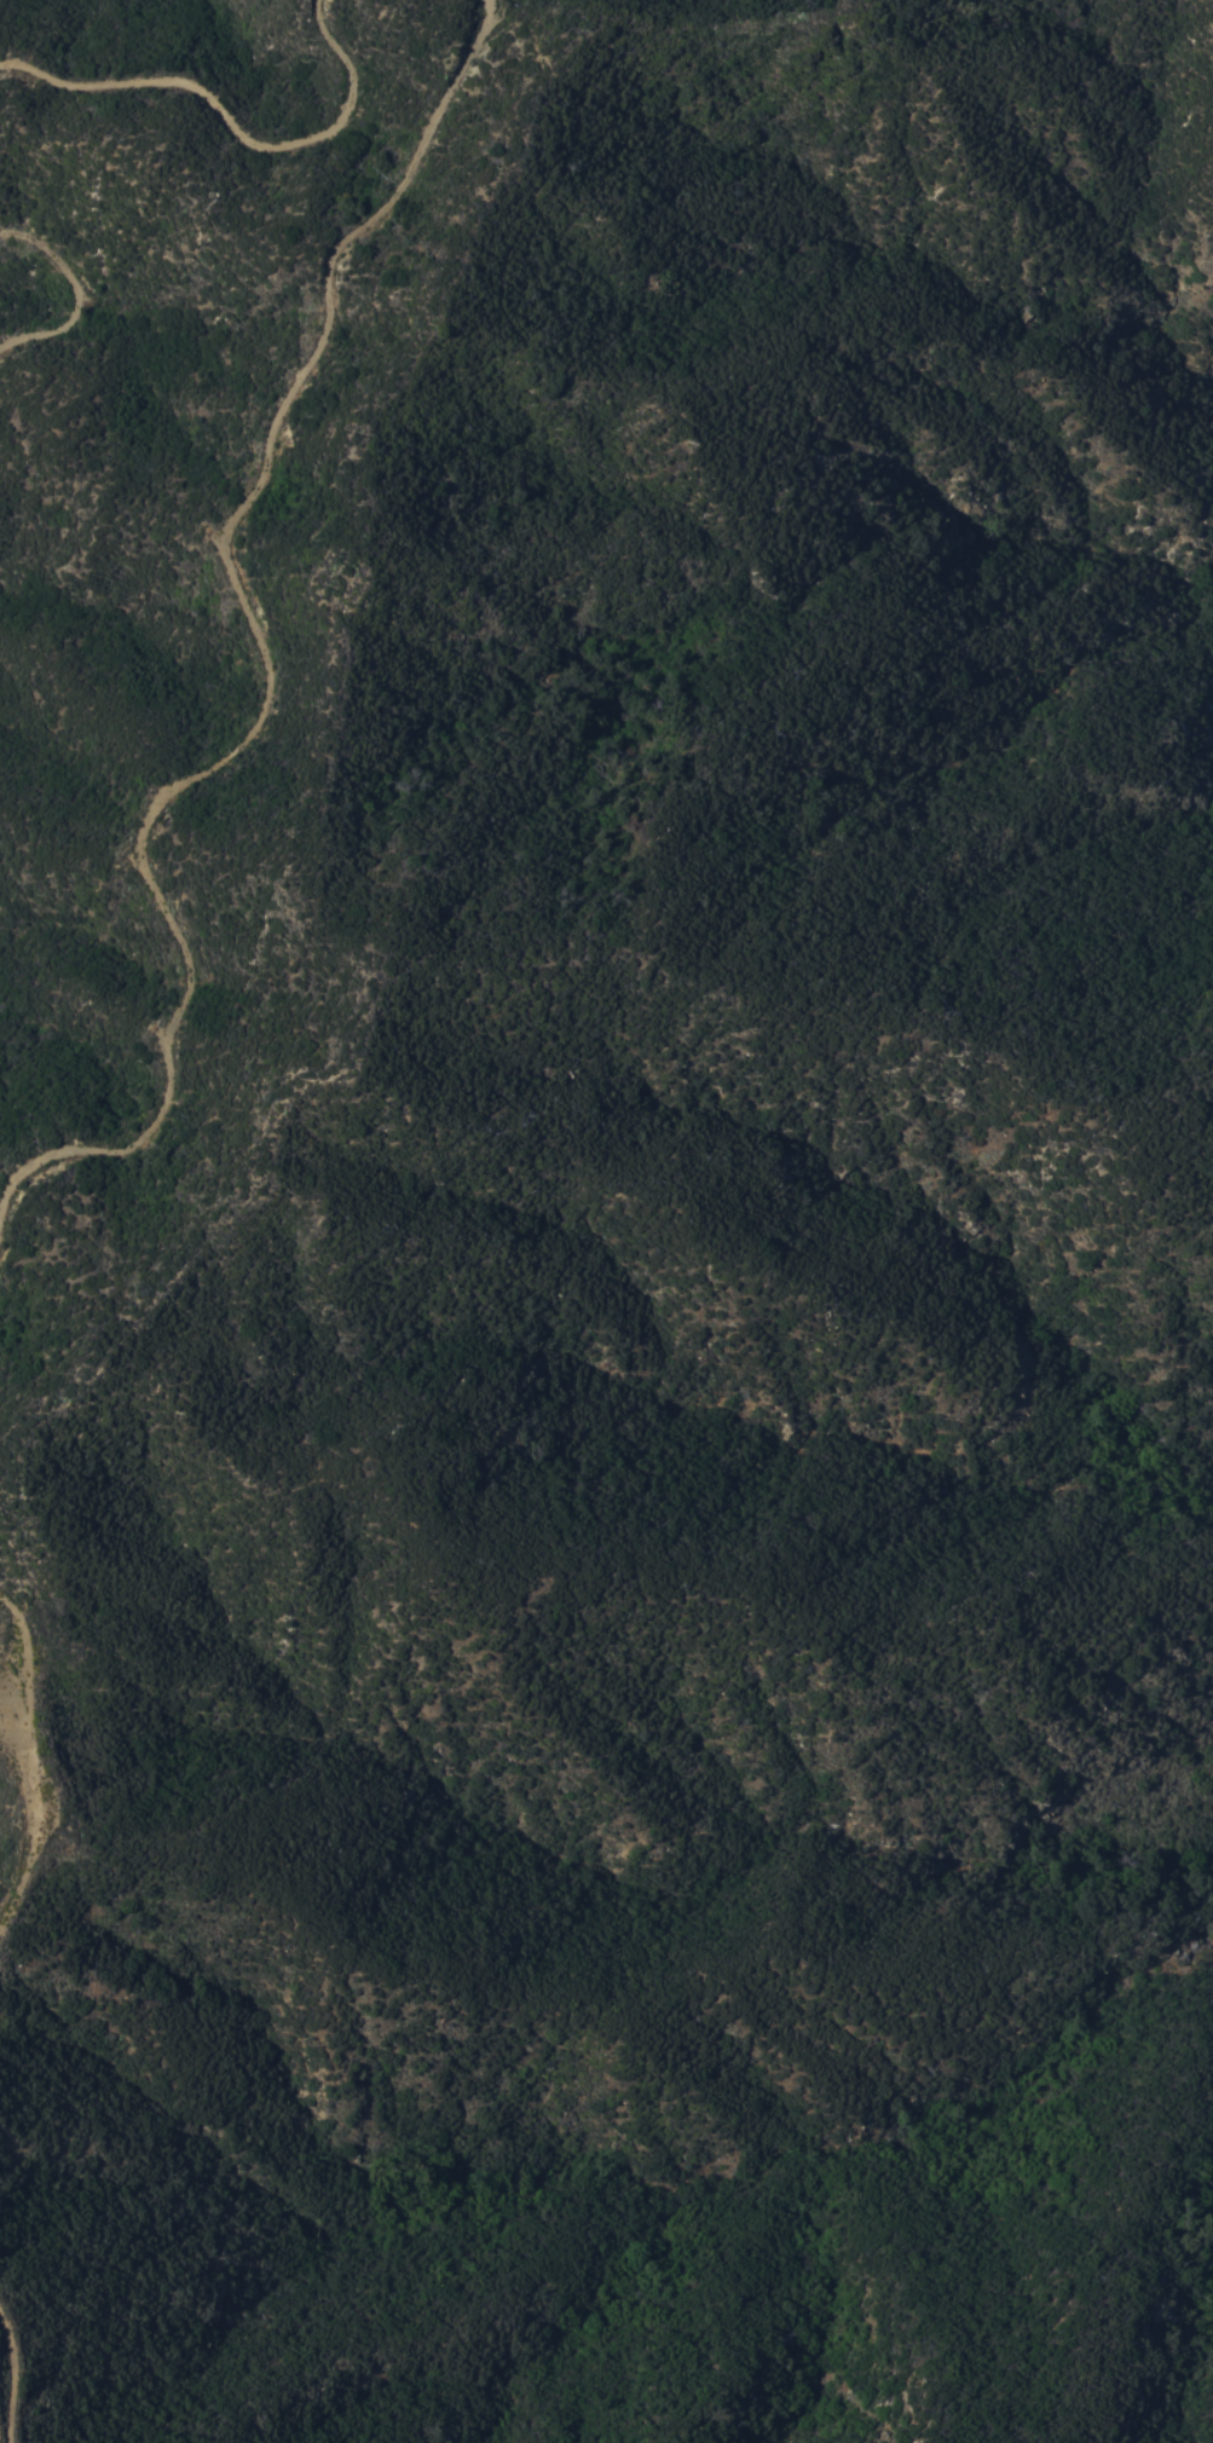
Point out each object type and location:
road: (236, 134)
road: (74, 291)
road: (261, 645)
road: (33, 1756)
road: (10, 2378)

